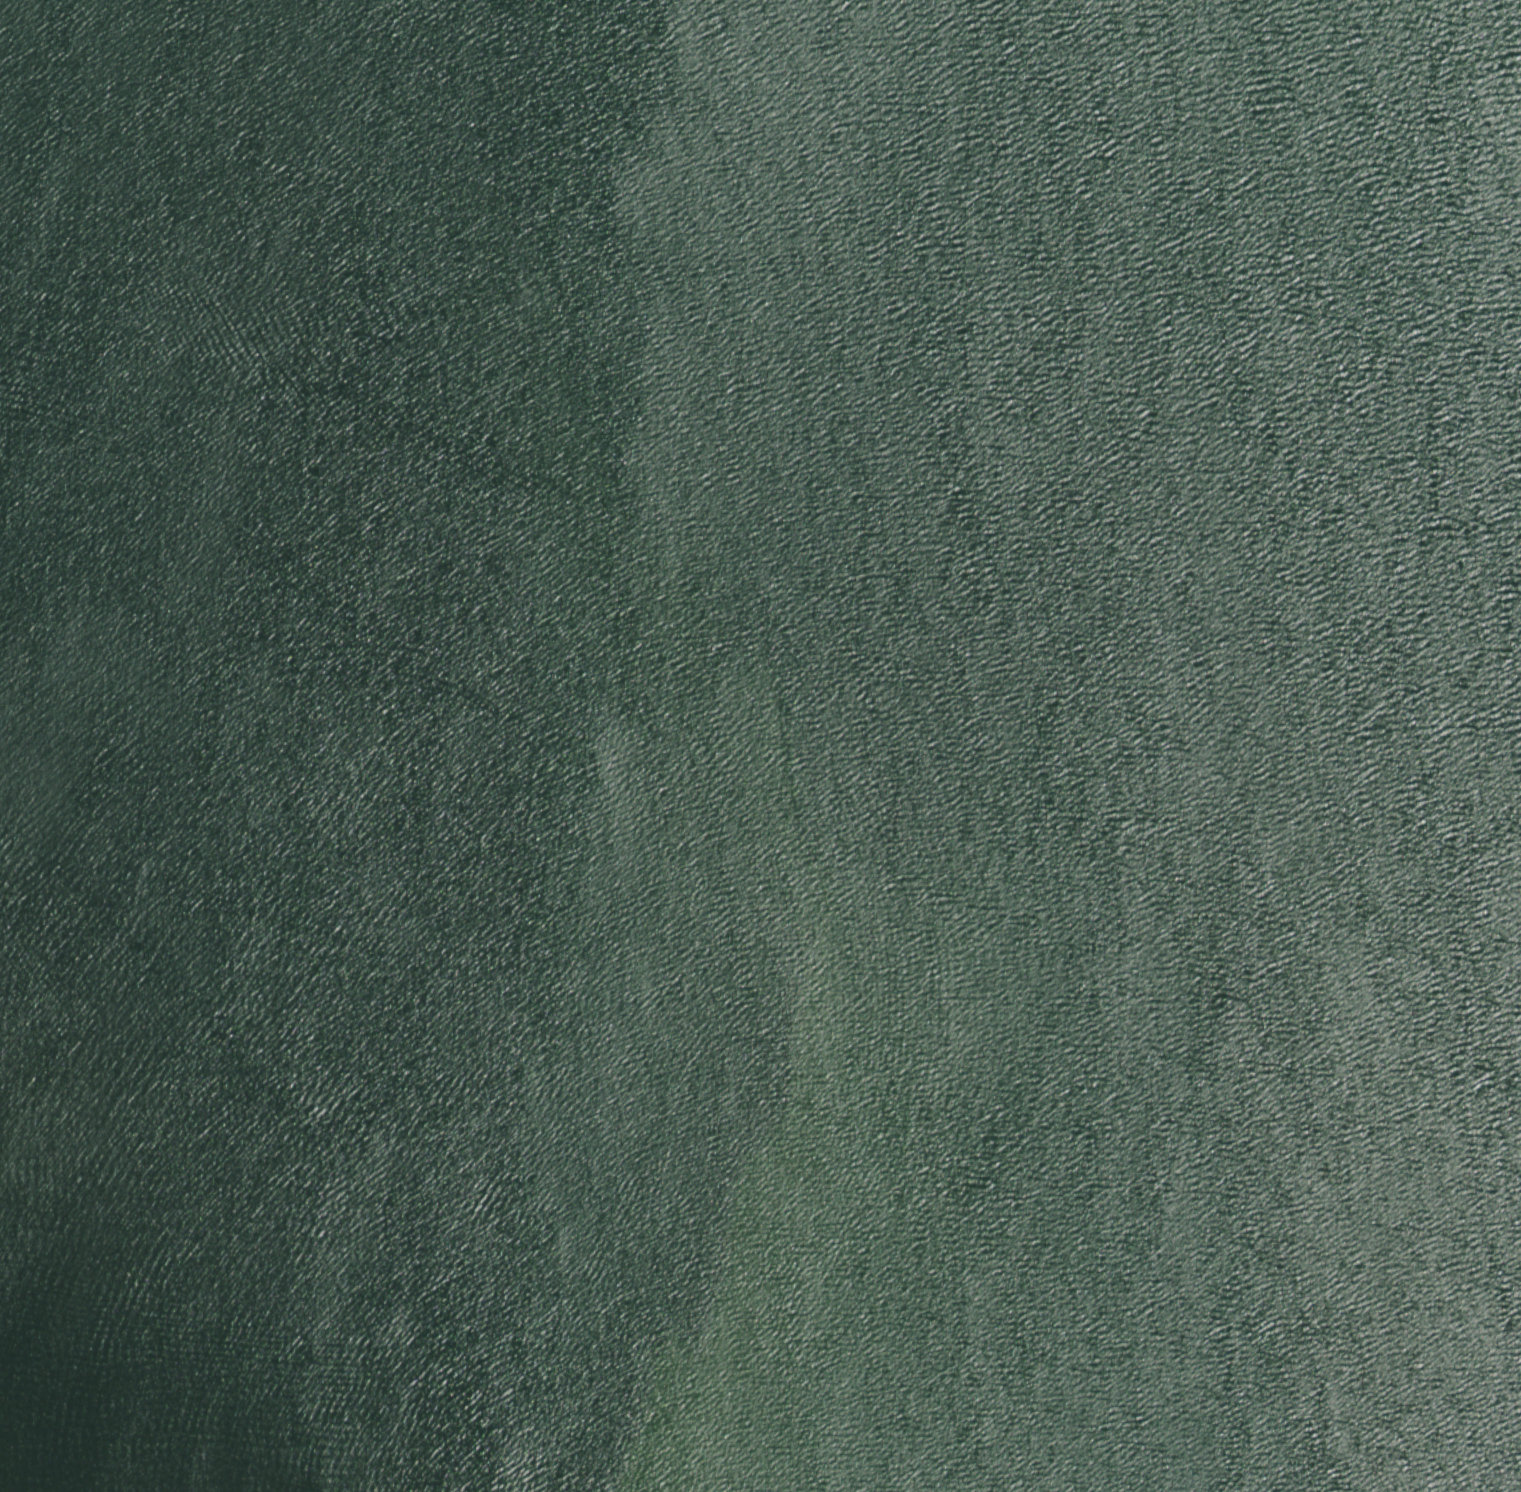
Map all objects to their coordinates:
river: (1009, 469)
park: (760, 746)

